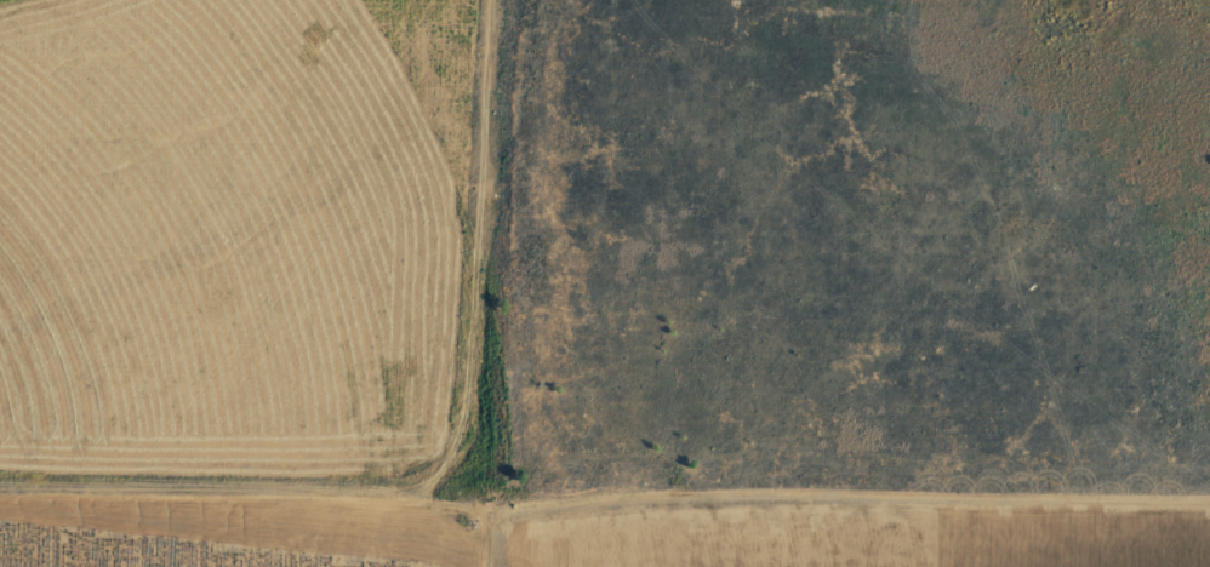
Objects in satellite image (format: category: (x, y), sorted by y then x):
road: (604, 516)
road: (498, 542)

